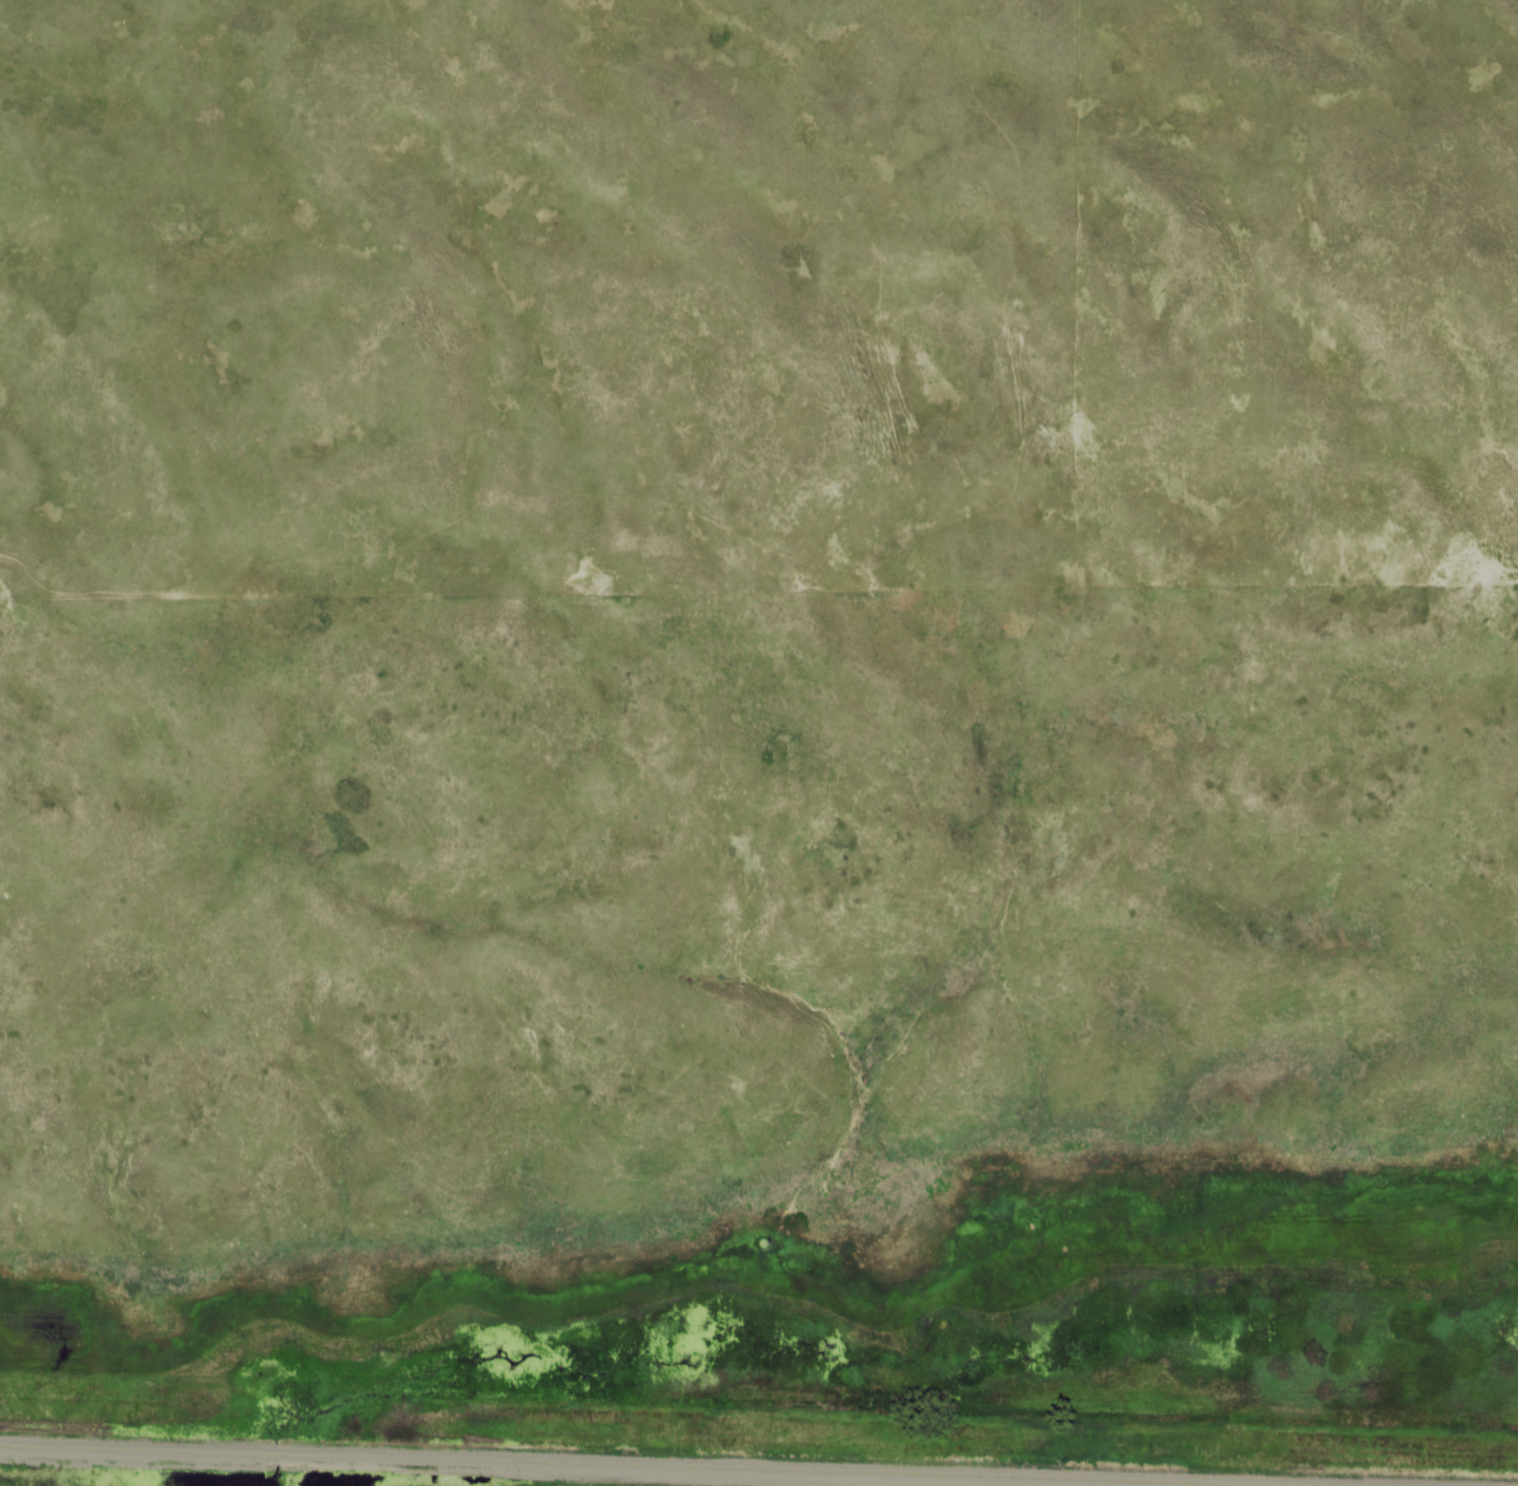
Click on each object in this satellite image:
railway: (696, 1464)

